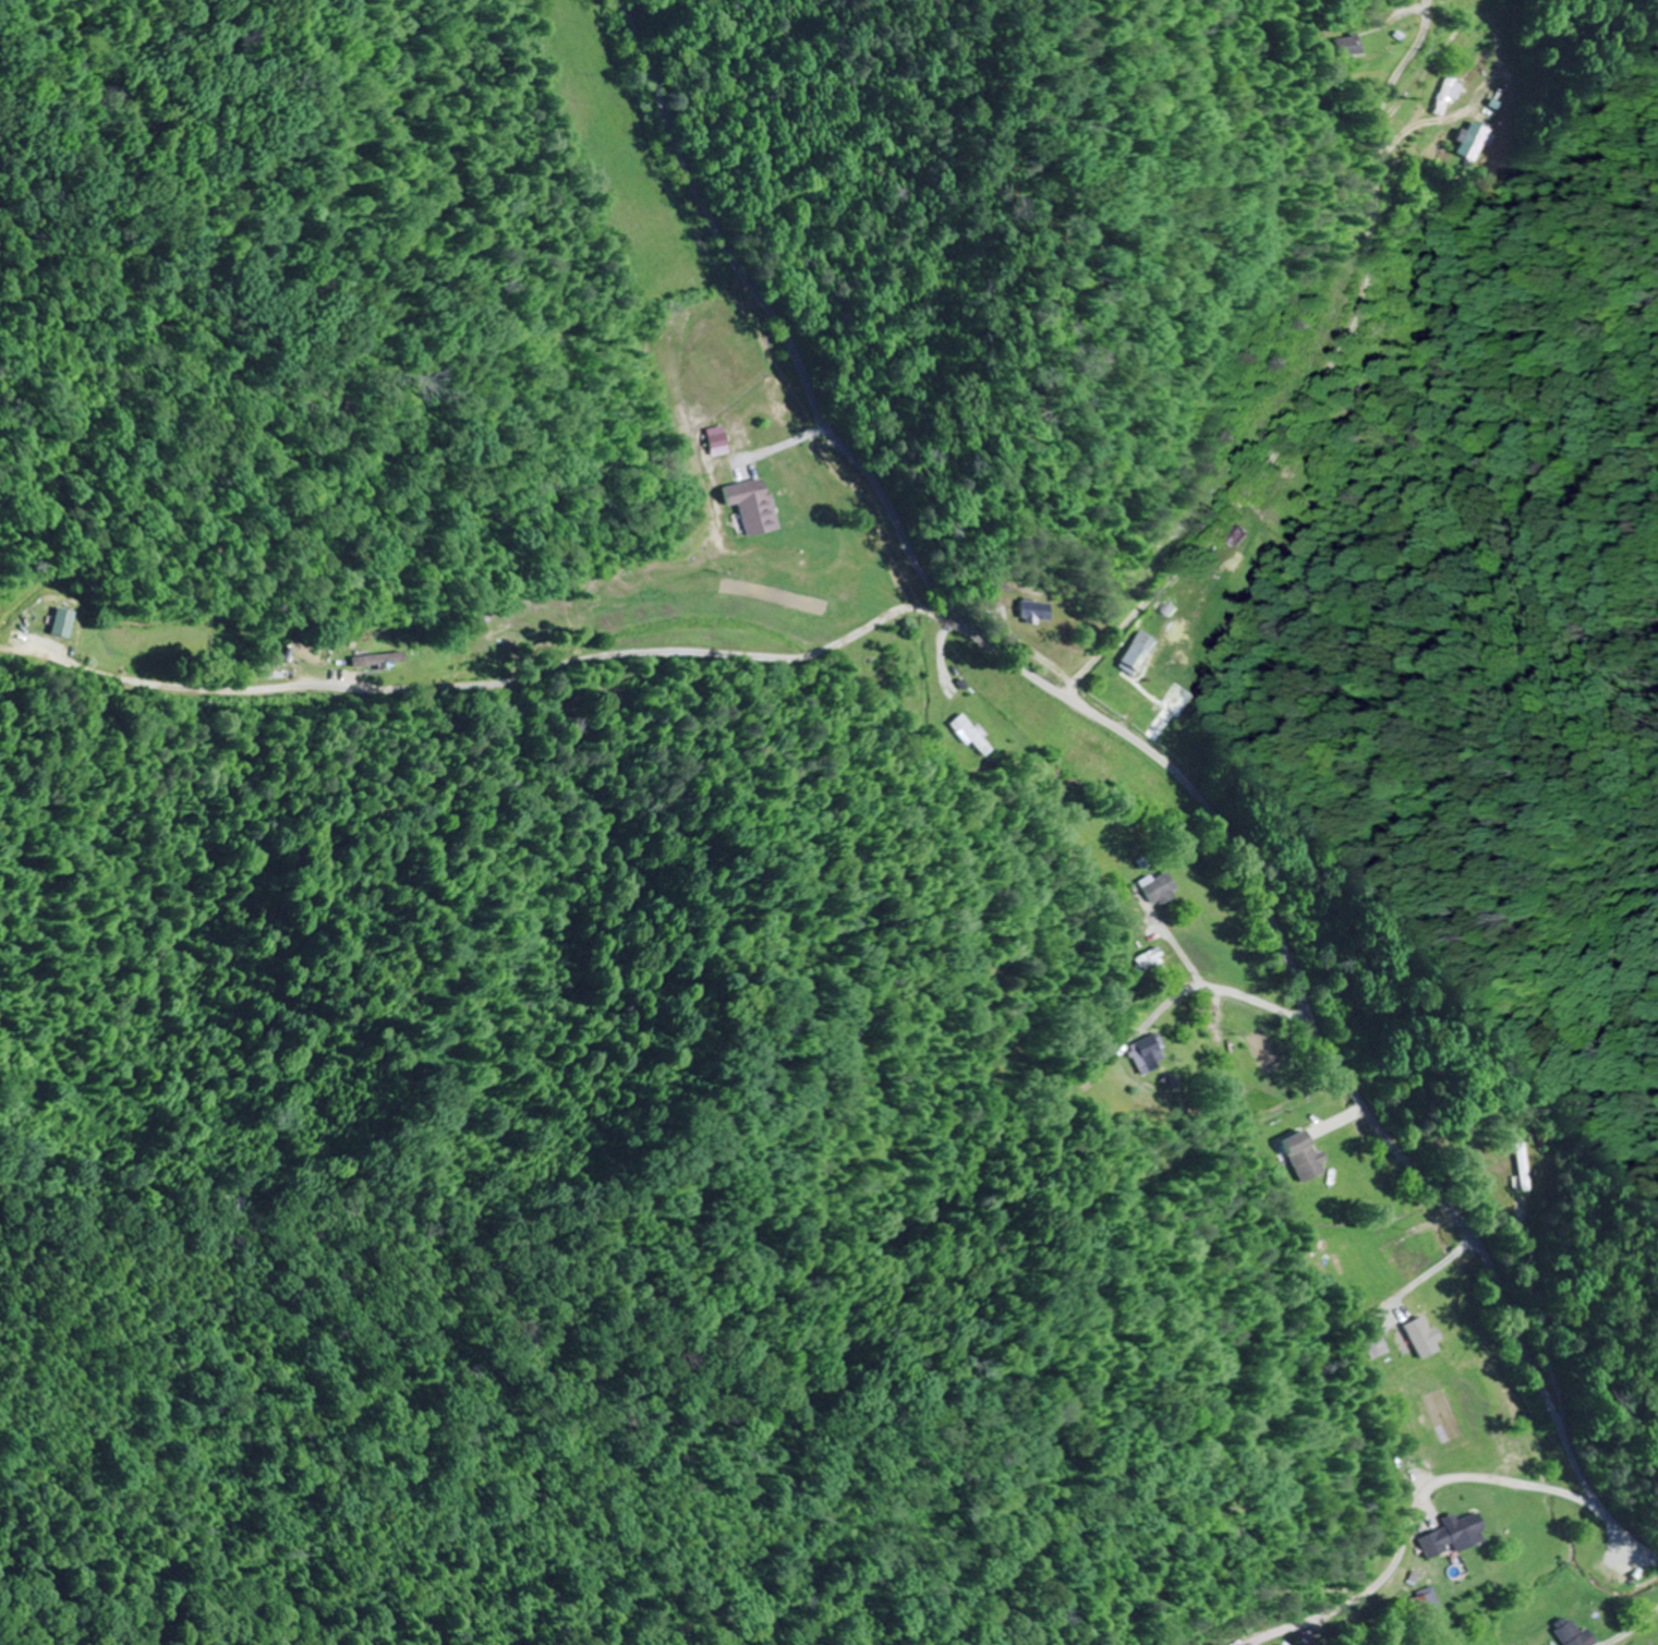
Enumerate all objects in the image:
building: (1354, 47)
building: (1448, 97)
building: (1476, 138)
road: (1318, 382)
building: (758, 508)
building: (1237, 535)
building: (1039, 613)
building: (64, 624)
building: (1136, 658)
building: (380, 662)
building: (279, 670)
building: (973, 735)
road: (1157, 759)
building: (1161, 891)
building: (1149, 961)
road: (1246, 1003)
building: (1148, 1051)
building: (1306, 1157)
building: (1525, 1166)
building: (1427, 1318)
building: (1375, 1339)
road: (1417, 1517)
building: (1455, 1536)
building: (1575, 1634)

